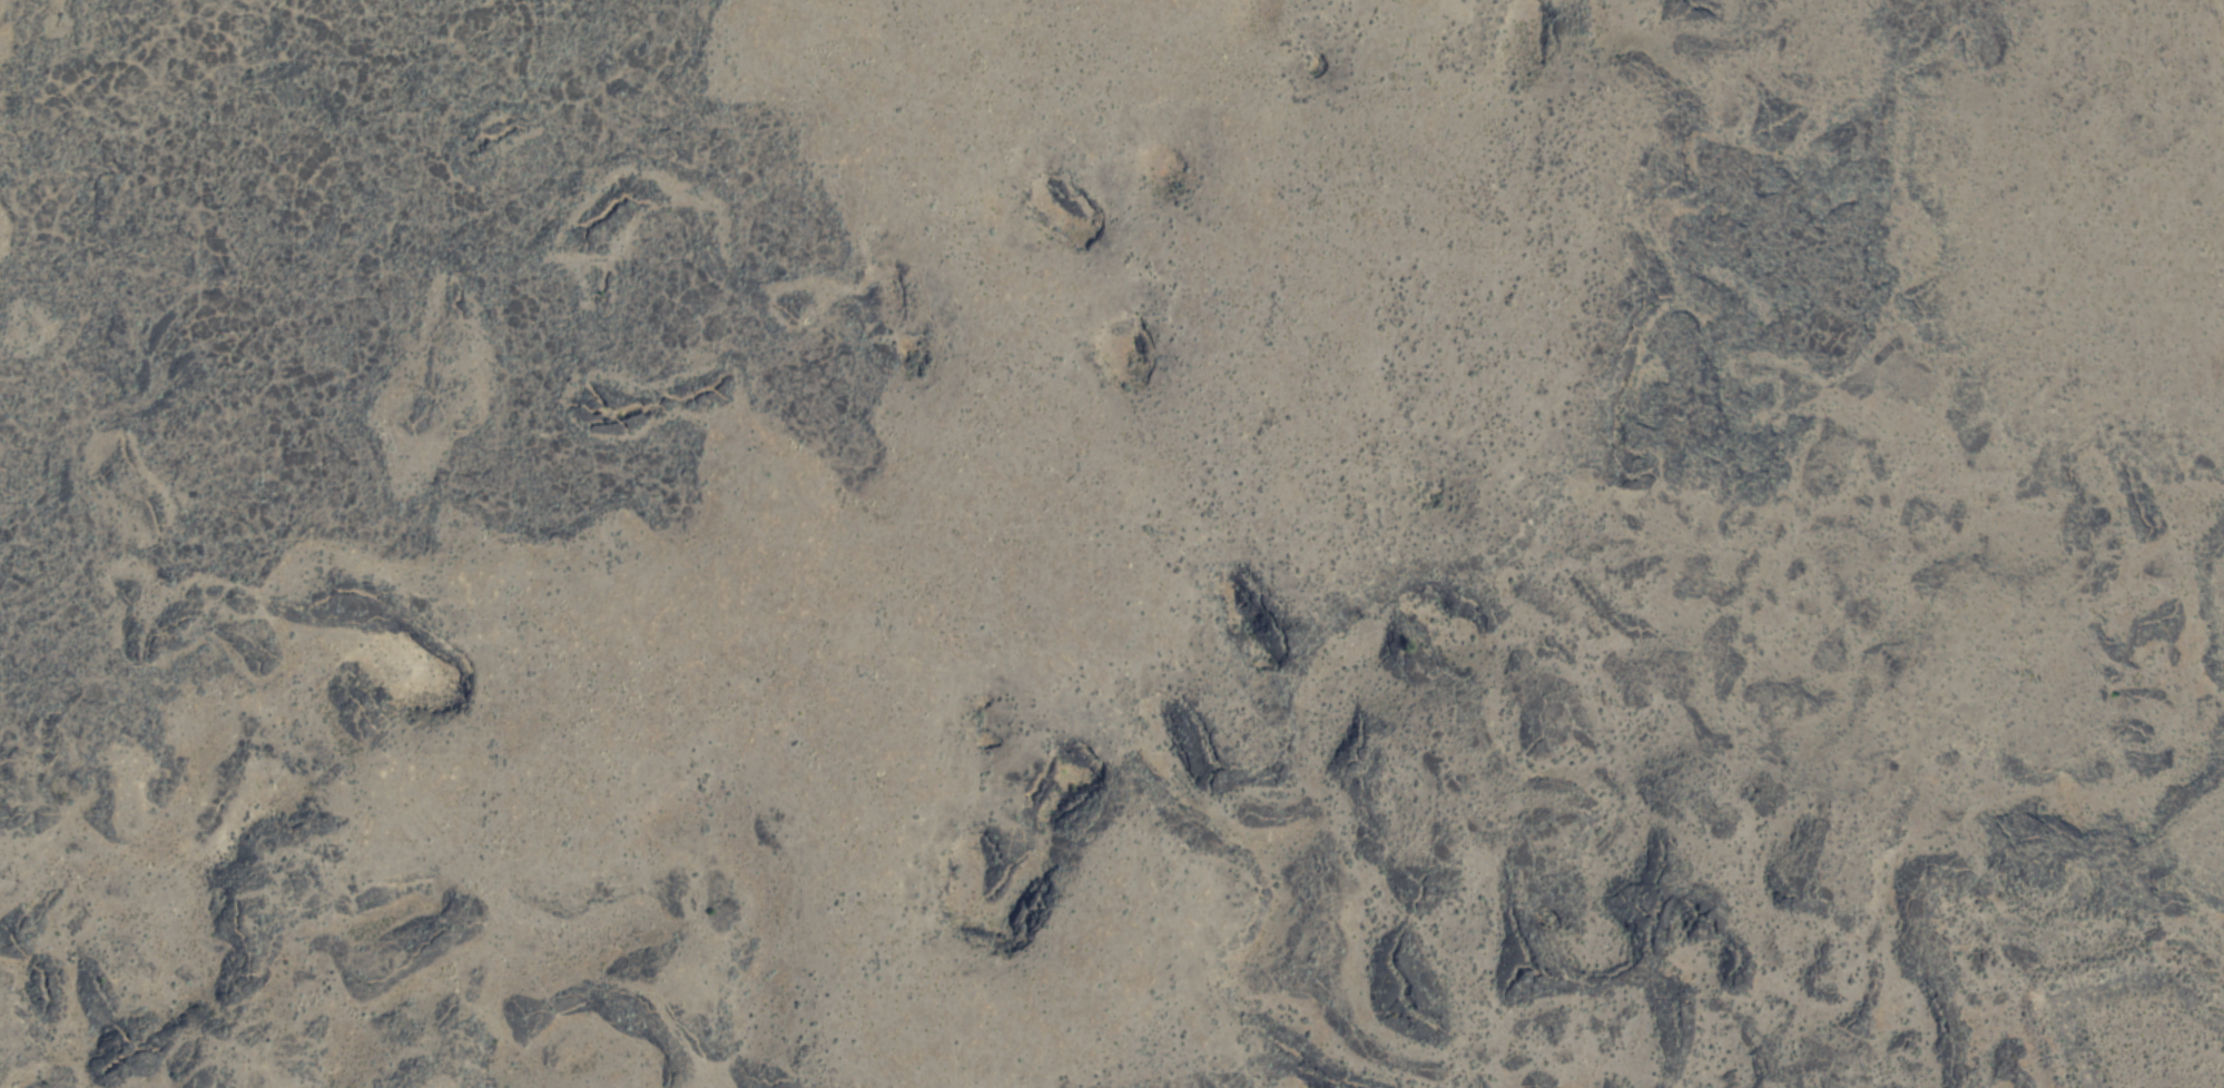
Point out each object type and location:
road: (2097, 1087)

